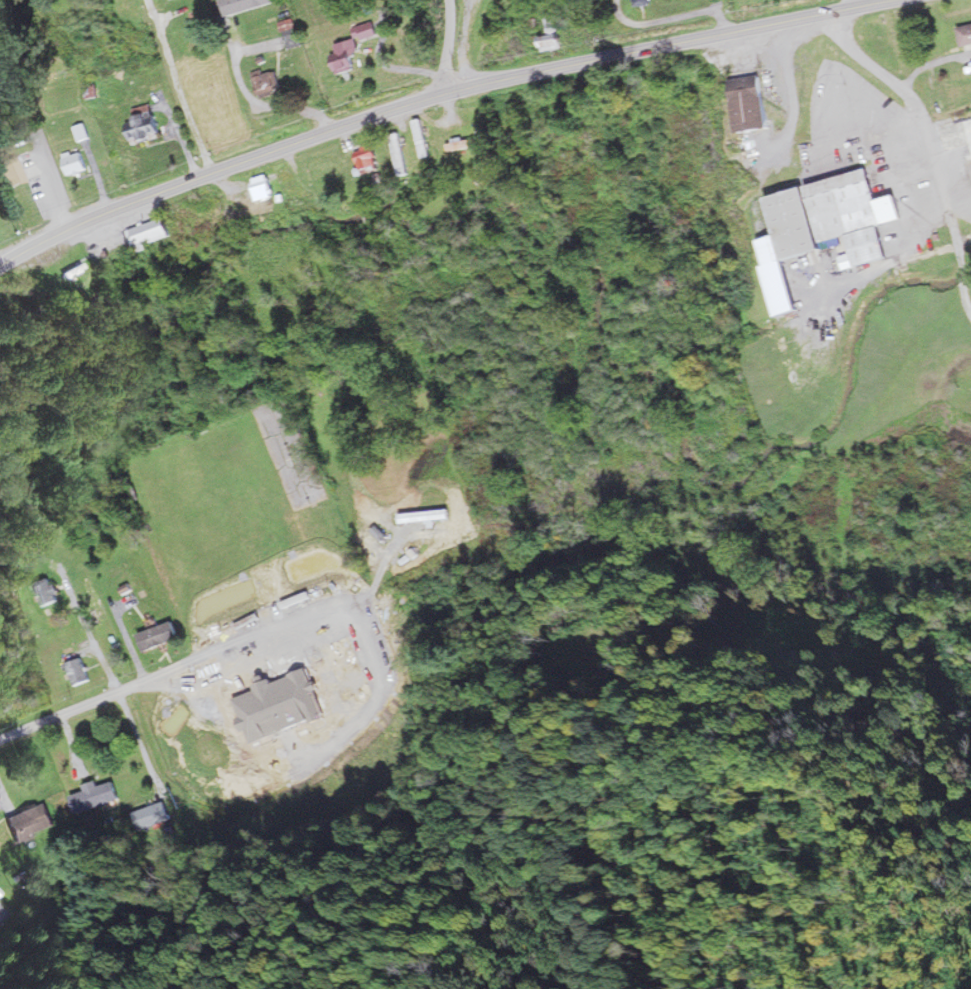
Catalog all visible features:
building: (646, 2)
road: (671, 18)
building: (551, 34)
building: (966, 34)
building: (295, 35)
building: (356, 46)
road: (450, 47)
road: (548, 69)
building: (269, 82)
road: (180, 87)
road: (243, 92)
building: (754, 103)
building: (145, 125)
building: (466, 143)
road: (932, 144)
building: (402, 154)
building: (370, 159)
building: (77, 163)
building: (13, 171)
building: (264, 188)
road: (103, 213)
building: (836, 217)
building: (151, 233)
building: (425, 516)
building: (49, 592)
road: (295, 626)
road: (92, 637)
building: (161, 637)
building: (80, 672)
building: (277, 708)
road: (67, 711)
road: (139, 742)
building: (96, 796)
building: (150, 817)
building: (32, 822)

